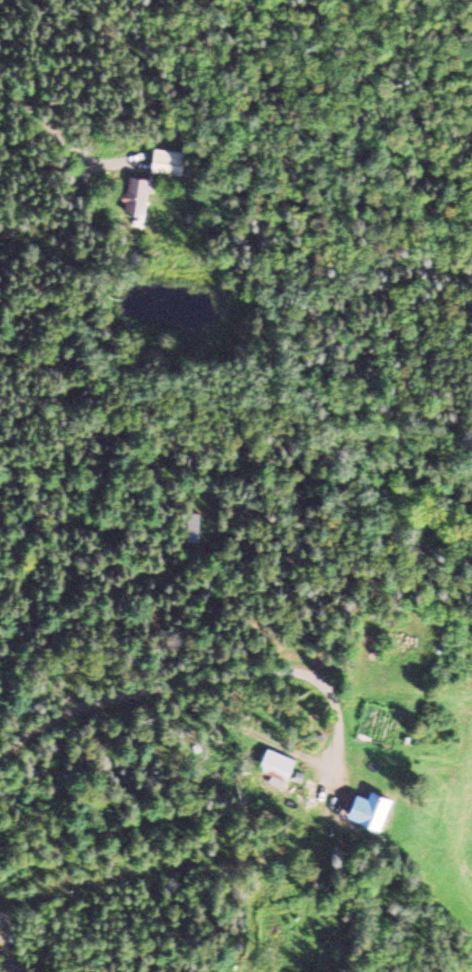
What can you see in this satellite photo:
building: (165, 160)
building: (135, 193)
building: (274, 760)
building: (371, 807)

